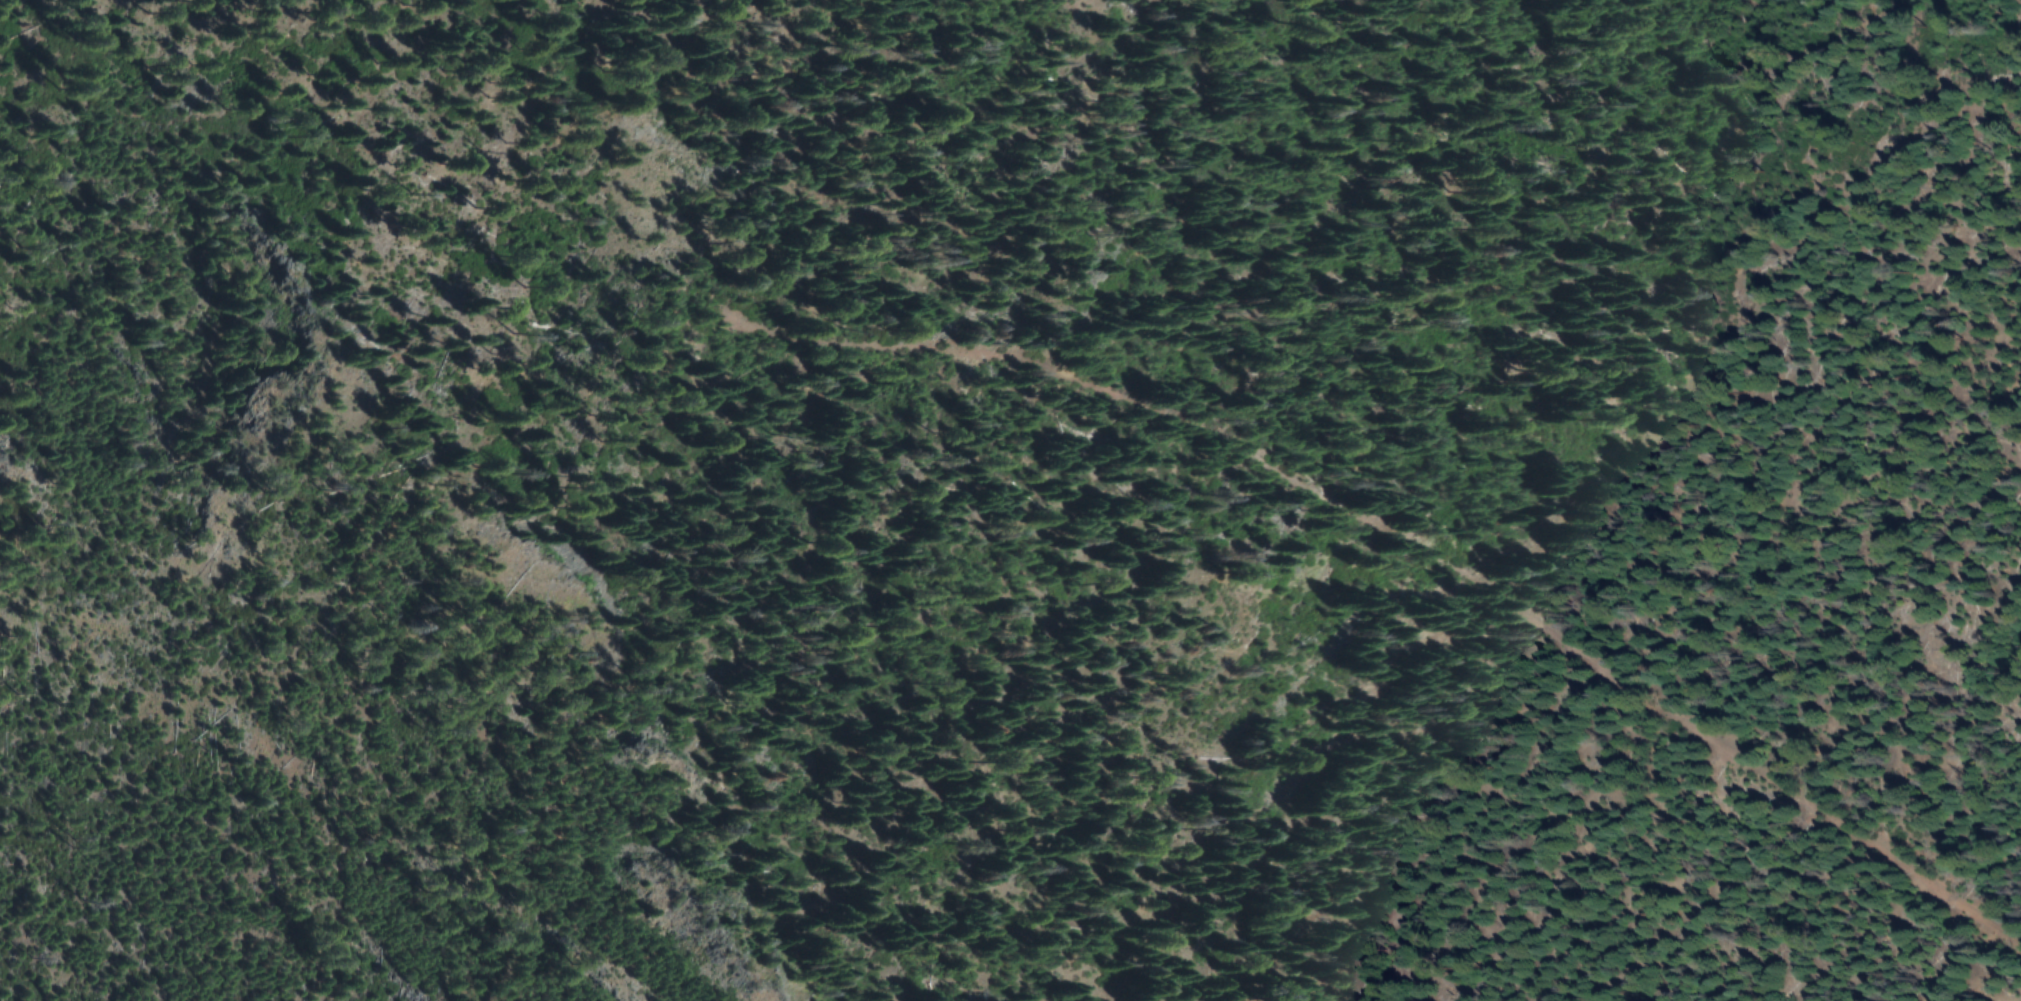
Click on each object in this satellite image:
road: (1980, 126)
road: (1452, 569)

